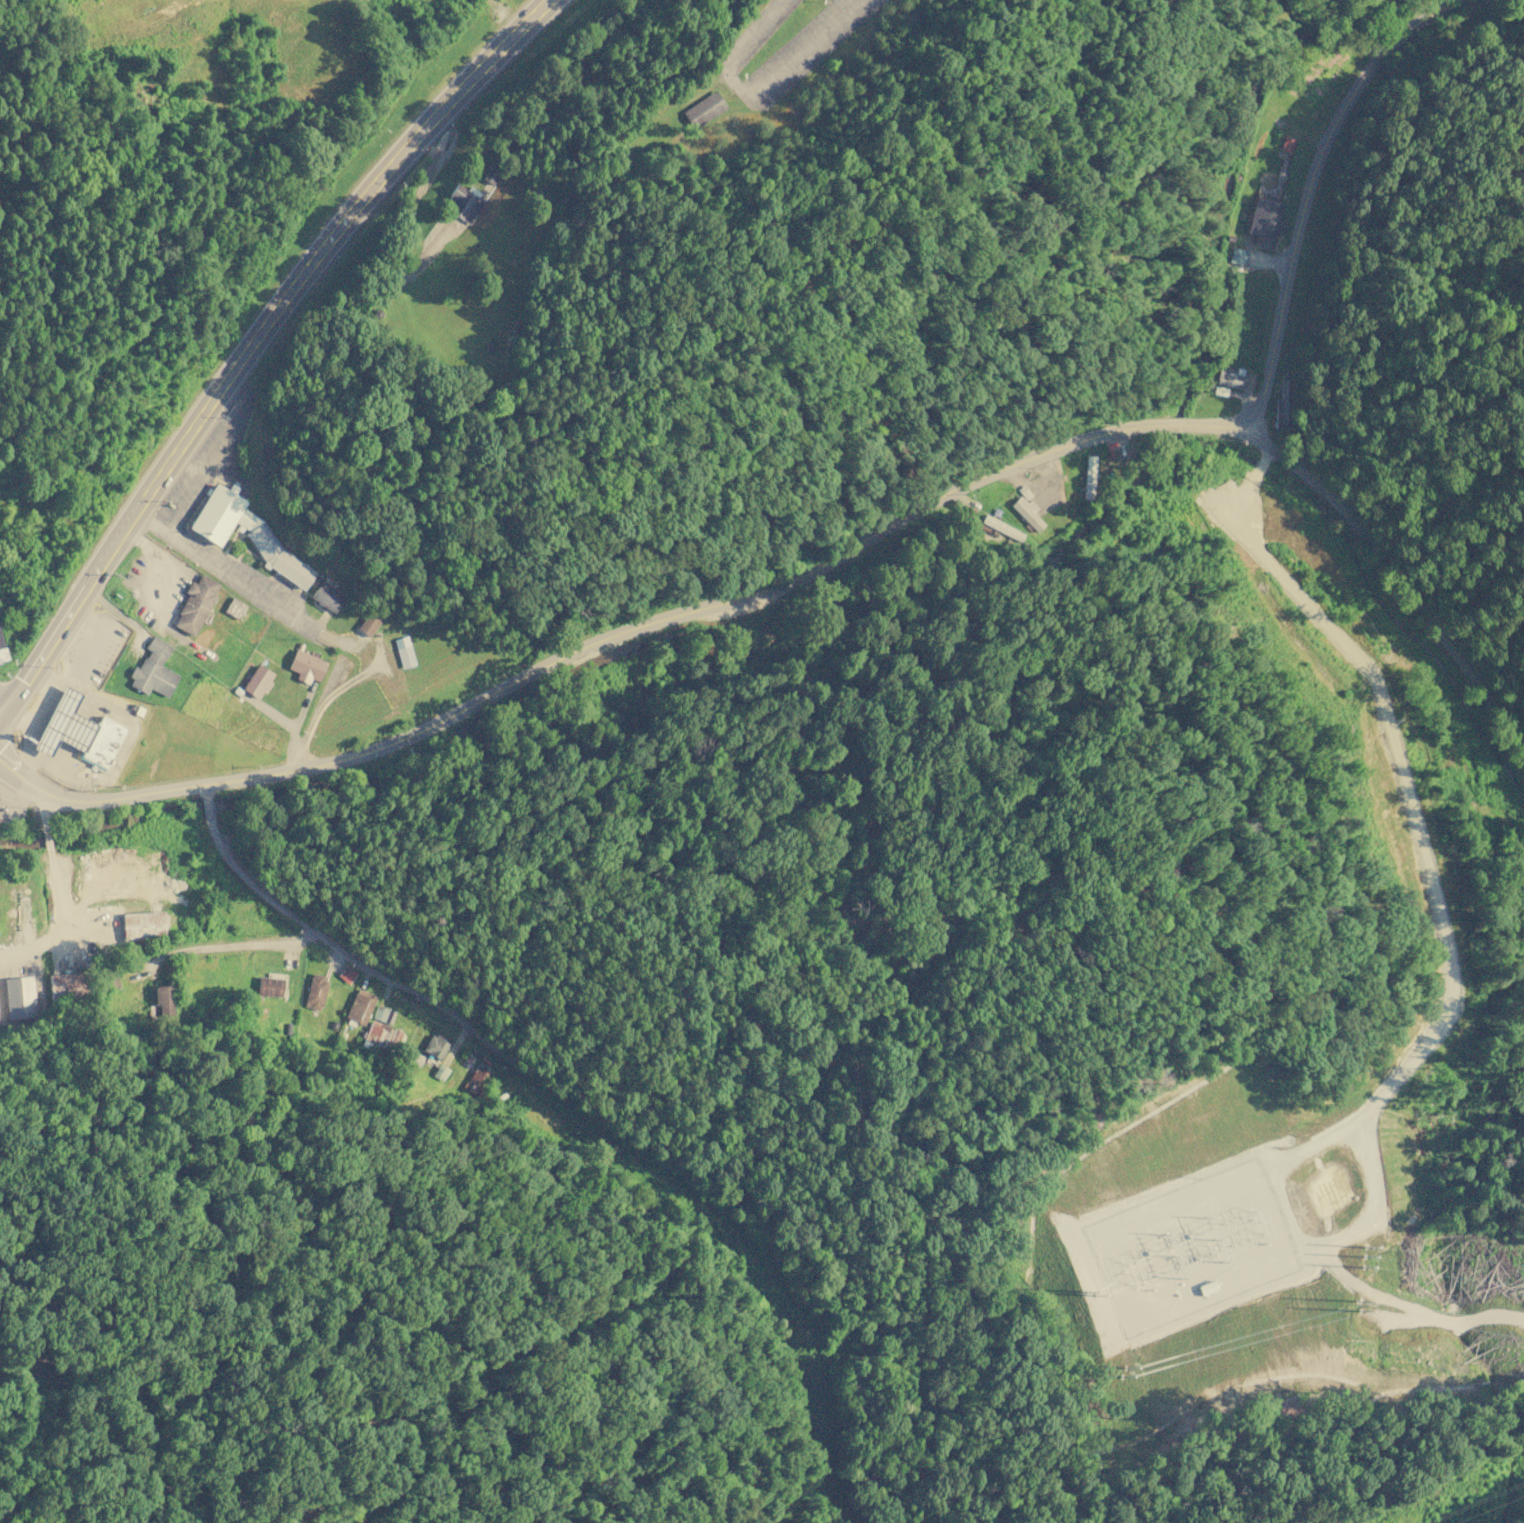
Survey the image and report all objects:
road: (756, 98)
building: (703, 110)
building: (1287, 144)
building: (491, 175)
road: (1309, 192)
building: (464, 202)
park: (172, 207)
building: (1264, 221)
road: (403, 231)
building: (1237, 256)
road: (260, 340)
building: (1229, 377)
building: (1220, 390)
building: (1280, 403)
road: (1175, 424)
road: (1211, 425)
building: (1088, 477)
building: (1024, 492)
building: (1026, 512)
building: (1001, 528)
building: (260, 544)
road: (1398, 573)
building: (195, 604)
building: (235, 608)
building: (368, 624)
road: (304, 626)
road: (587, 646)
building: (2, 651)
building: (404, 651)
building: (306, 665)
building: (153, 670)
building: (257, 681)
building: (77, 731)
road: (40, 804)
road: (46, 833)
road: (302, 923)
building: (143, 926)
road: (64, 930)
road: (250, 949)
building: (347, 974)
building: (111, 979)
building: (269, 986)
building: (66, 989)
building: (315, 991)
building: (19, 997)
building: (164, 999)
building: (359, 1008)
building: (383, 1014)
building: (334, 1025)
building: (287, 1028)
building: (382, 1036)
building: (436, 1045)
building: (414, 1058)
building: (467, 1061)
building: (440, 1072)
building: (477, 1080)

